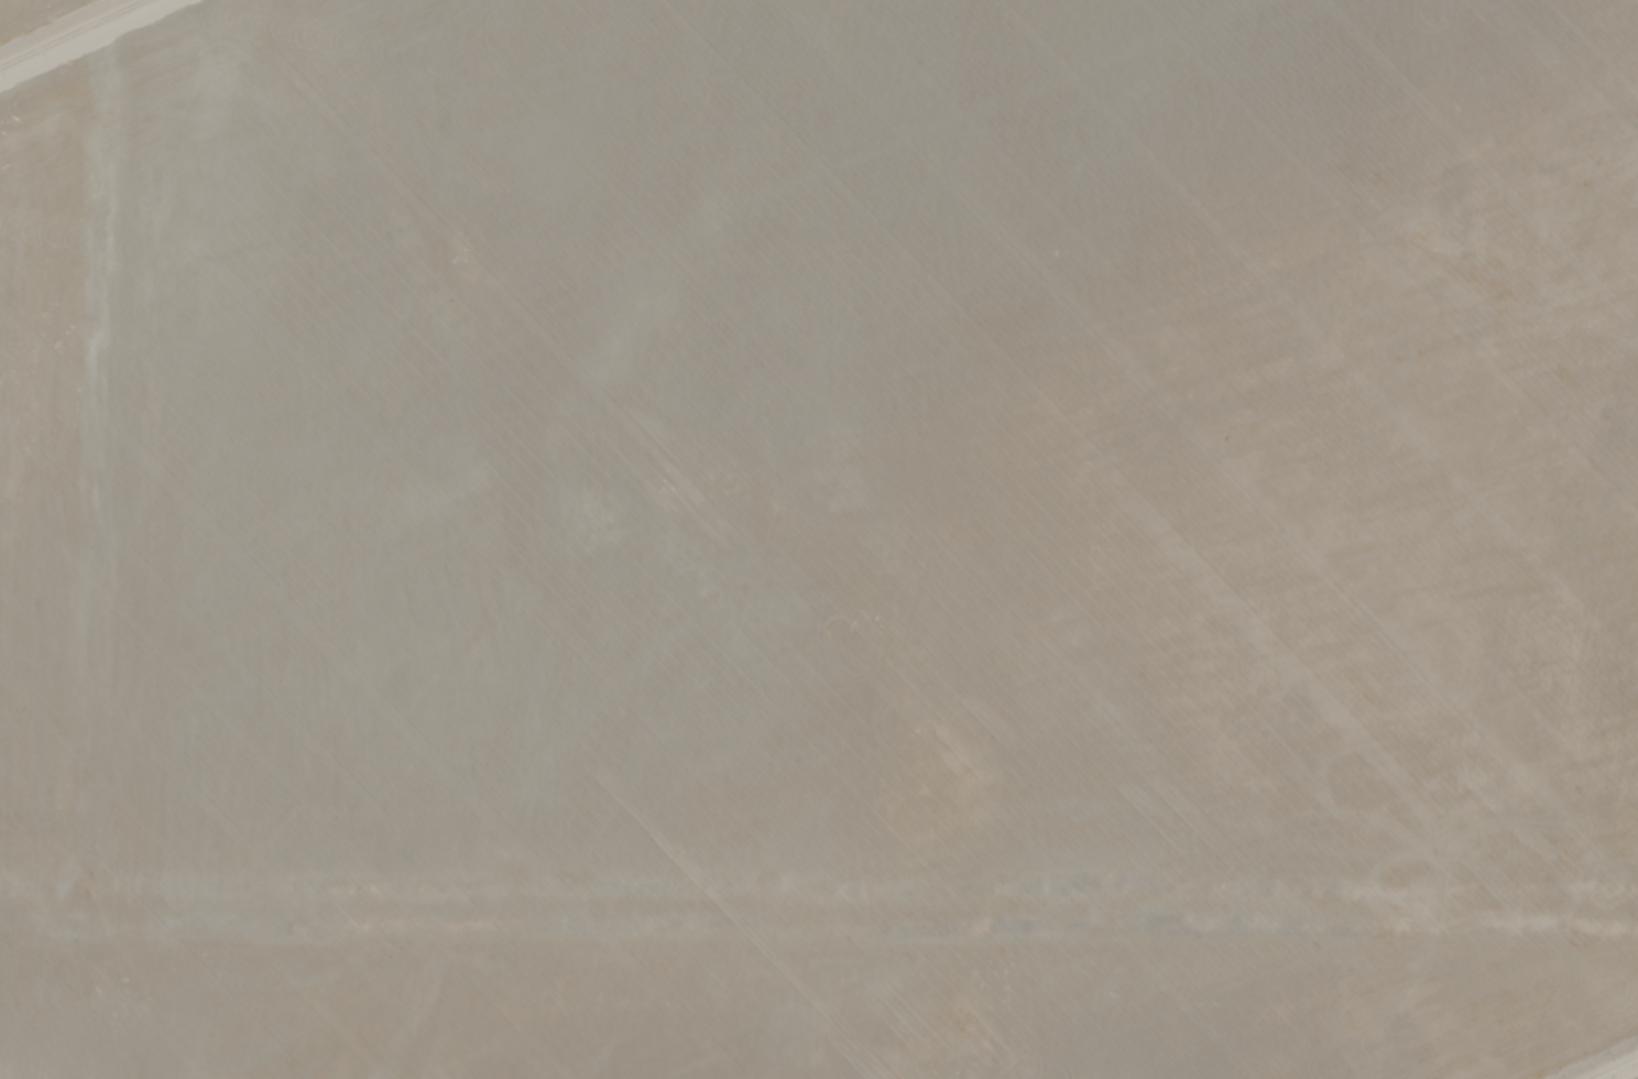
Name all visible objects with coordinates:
road: (57, 454)
road: (819, 914)
wastewater plant: (13, 963)

